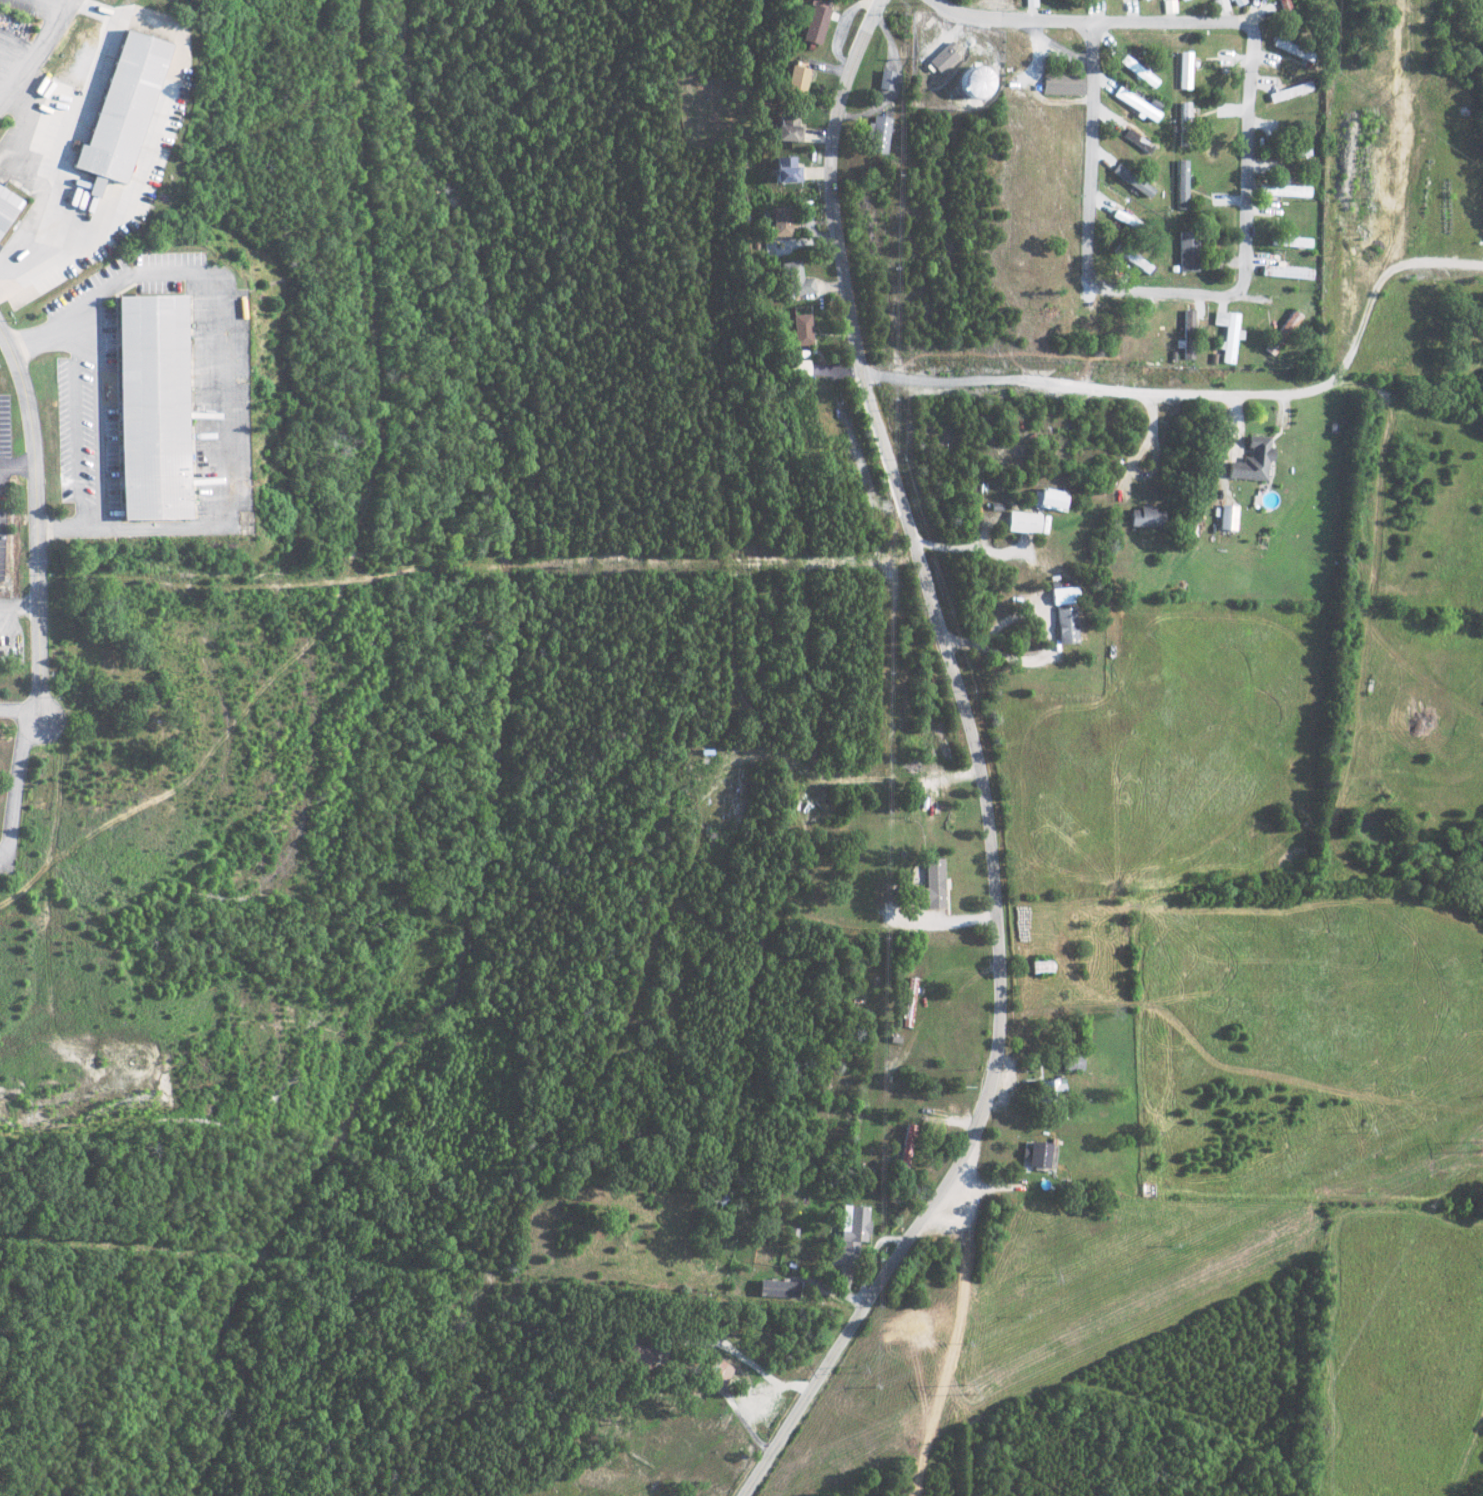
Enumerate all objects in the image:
building: (1143, 0)
building: (1181, 0)
building: (1237, 2)
building: (1219, 5)
building: (1168, 6)
building: (1283, 7)
road: (1013, 20)
building: (817, 21)
building: (1289, 46)
road: (34, 51)
building: (943, 60)
building: (1185, 71)
building: (796, 81)
building: (975, 83)
building: (1062, 84)
building: (1137, 106)
building: (120, 112)
building: (1184, 118)
building: (787, 129)
building: (877, 134)
building: (1138, 141)
building: (786, 171)
building: (1132, 181)
building: (1182, 185)
building: (1284, 191)
building: (6, 208)
building: (781, 223)
building: (1297, 242)
building: (1188, 252)
building: (1133, 259)
road: (1249, 259)
building: (1286, 272)
building: (796, 279)
building: (802, 328)
building: (1282, 333)
building: (1227, 334)
building: (797, 367)
road: (1208, 383)
building: (150, 406)
building: (1252, 460)
road: (18, 466)
building: (1051, 498)
building: (1146, 517)
building: (1227, 517)
road: (36, 519)
building: (1023, 522)
building: (1064, 595)
road: (19, 605)
building: (1067, 624)
road: (1021, 660)
road: (20, 707)
road: (979, 769)
road: (16, 787)
building: (930, 886)
building: (910, 994)
building: (1071, 1062)
building: (1049, 1091)
power tower: (1367, 1132)
power tower: (1477, 1143)
building: (907, 1145)
building: (1038, 1155)
building: (852, 1233)
power tower: (1055, 1280)
building: (780, 1291)
power tower: (860, 1370)
power tower: (966, 1389)

